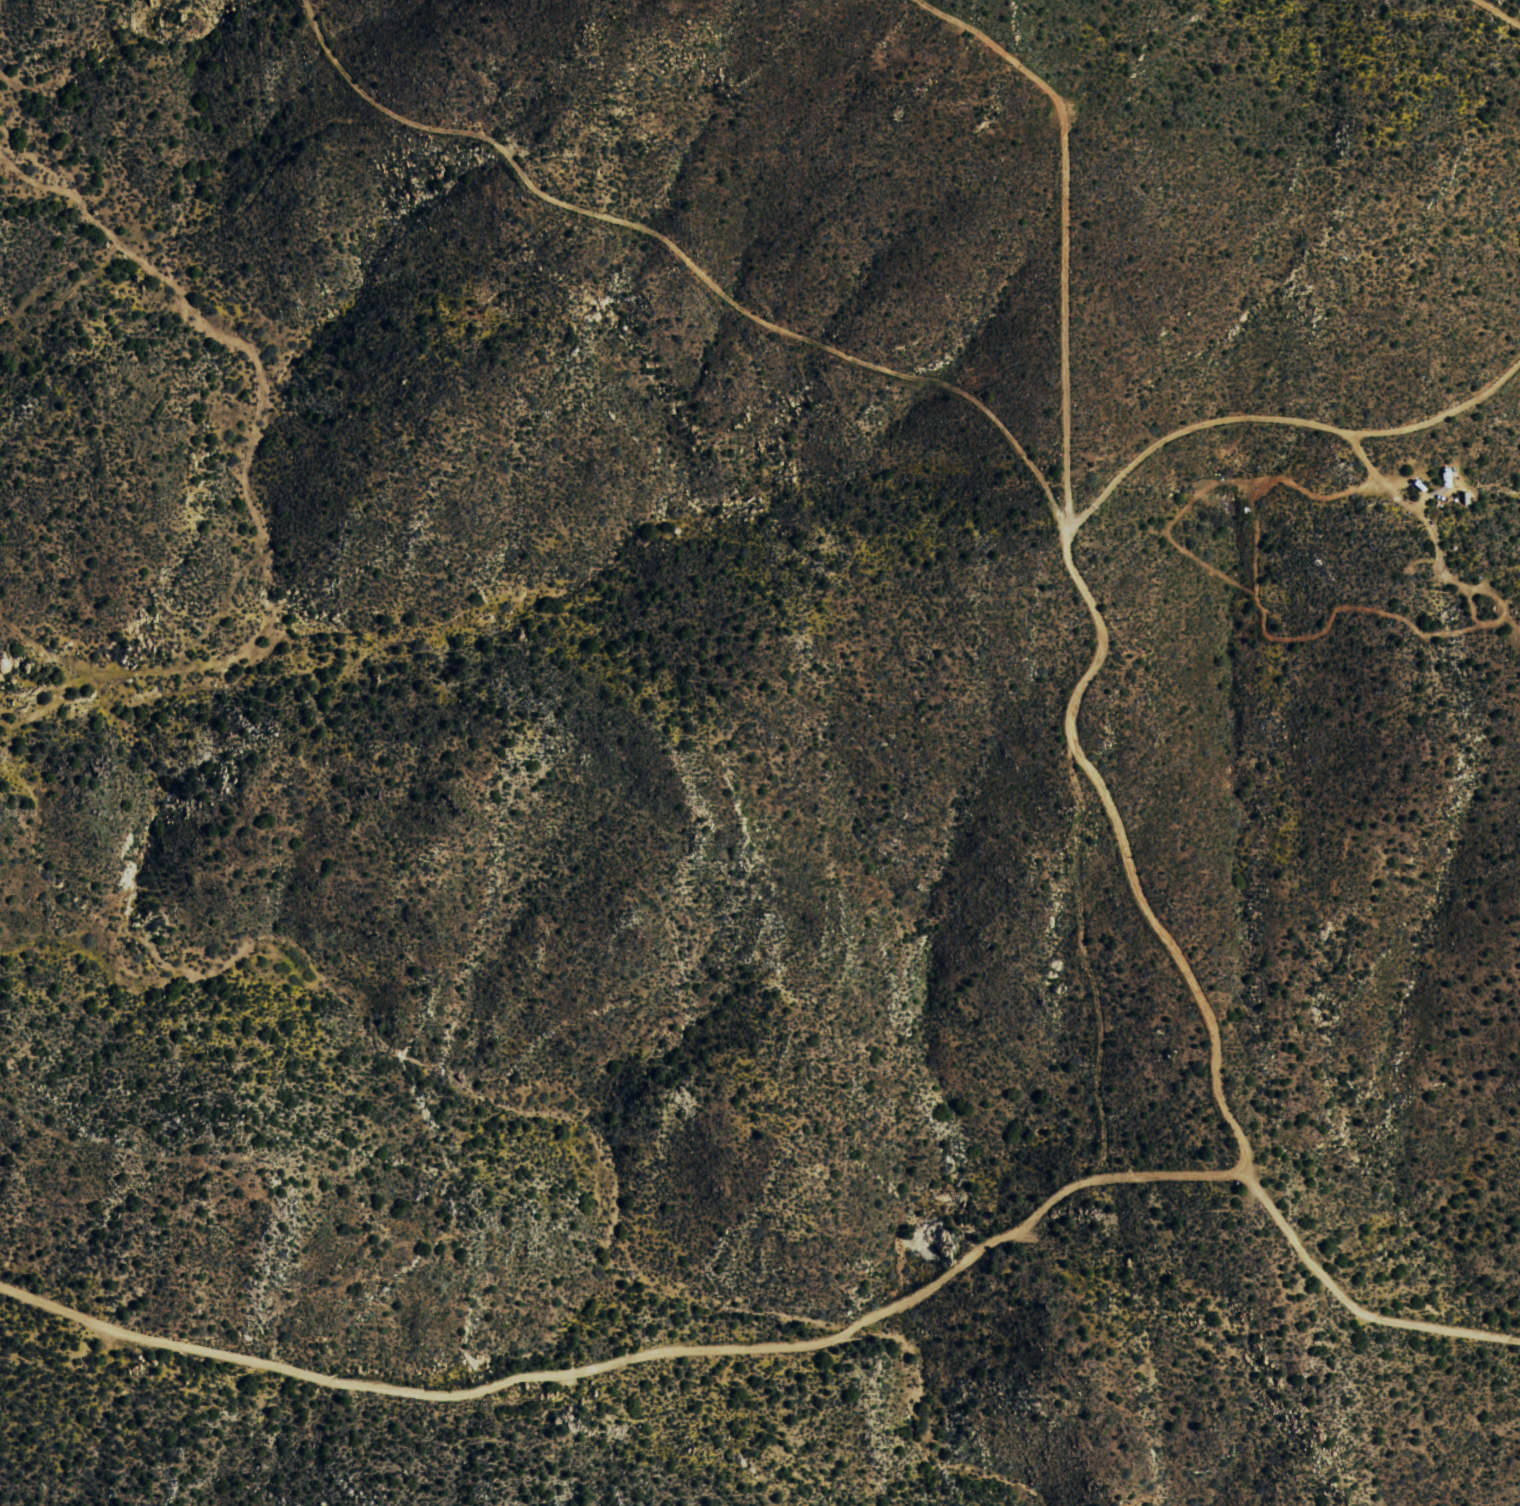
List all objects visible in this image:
road: (1109, 501)
road: (1180, 1177)
road: (576, 1375)

